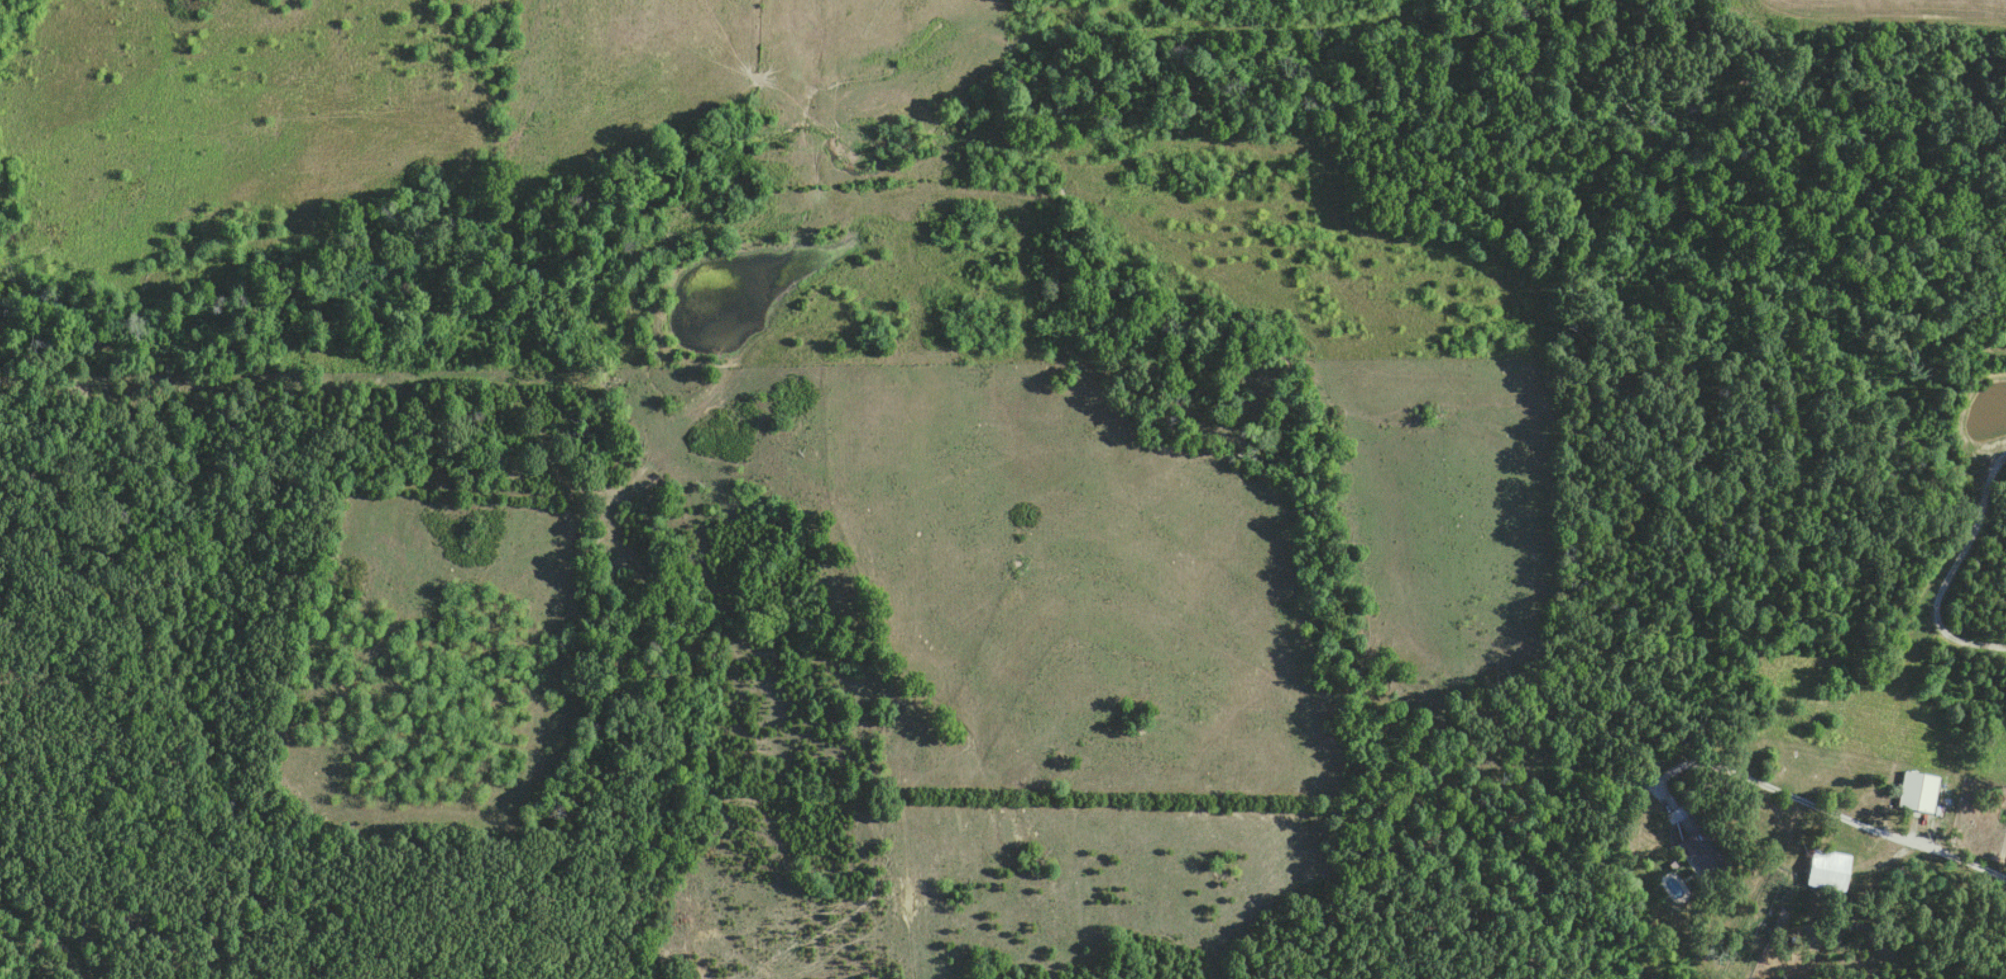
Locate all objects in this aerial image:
building: (1663, 792)
road: (1796, 801)
building: (1705, 854)
building: (1833, 870)

